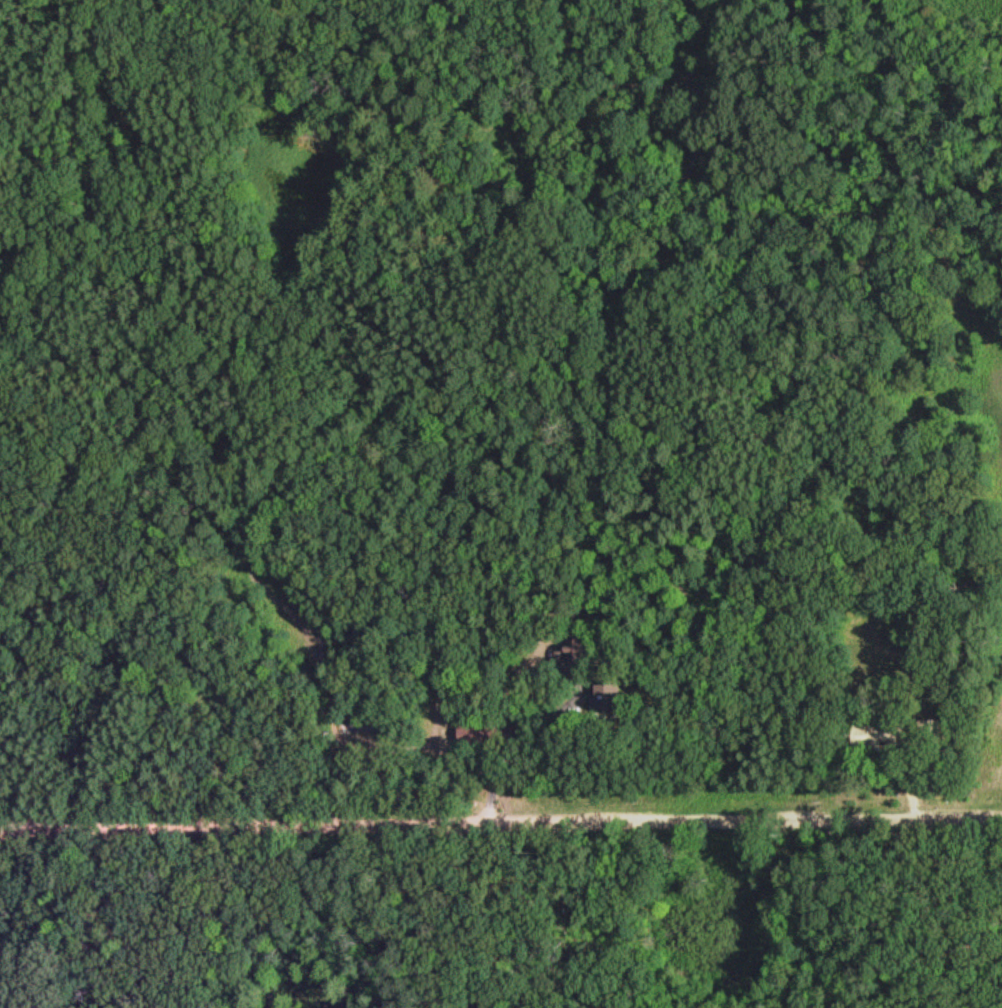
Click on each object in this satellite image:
building: (603, 696)
building: (884, 731)
road: (500, 819)

